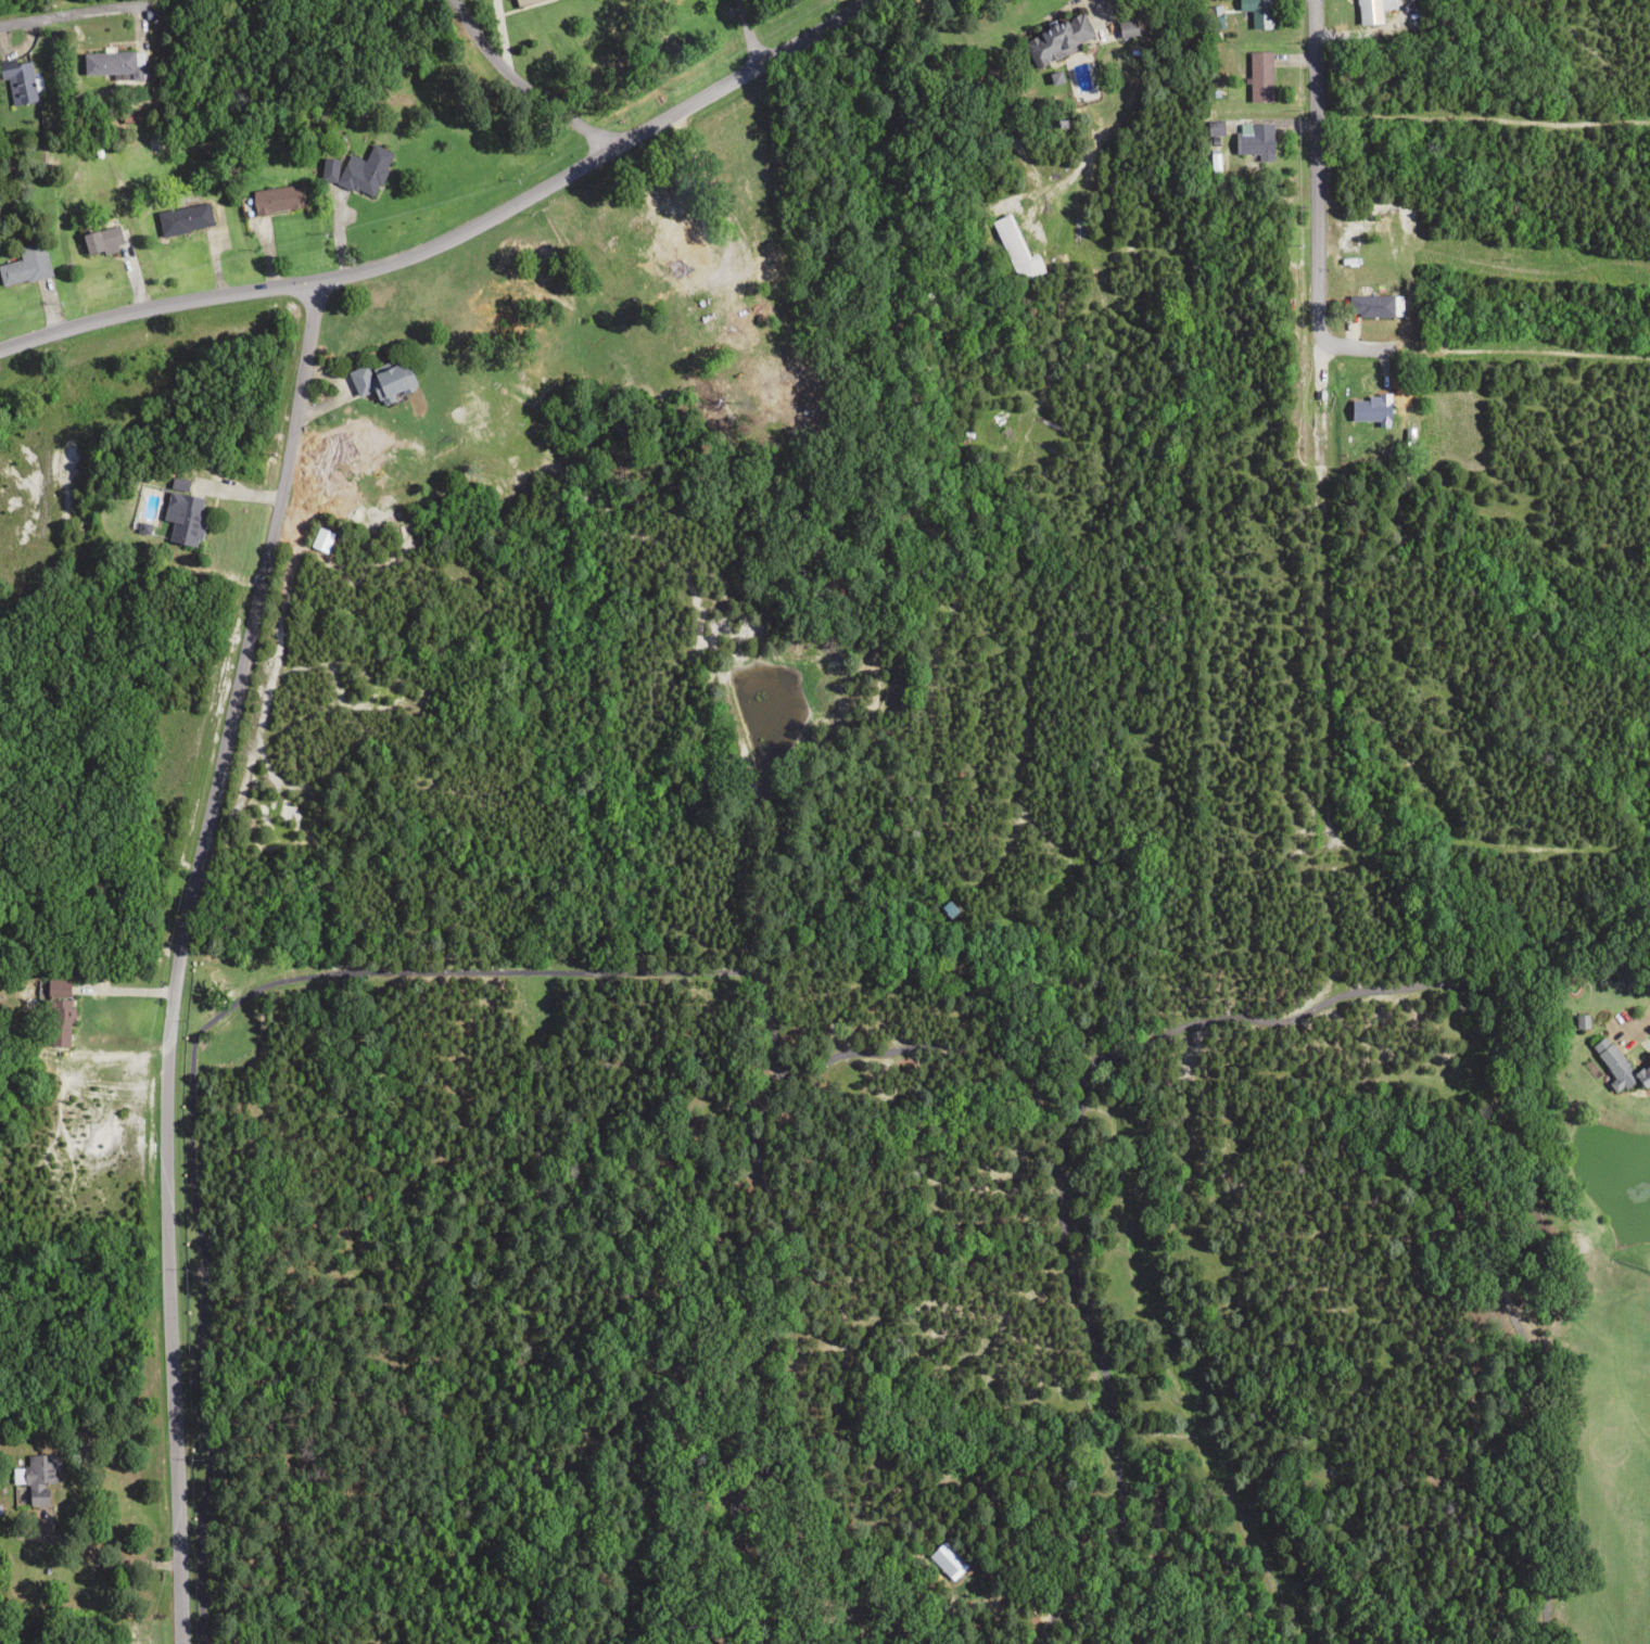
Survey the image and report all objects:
building: (520, 1)
building: (1370, 10)
building: (1256, 12)
road: (78, 15)
building: (1125, 27)
road: (749, 35)
building: (1057, 37)
building: (112, 63)
building: (1258, 75)
road: (541, 81)
building: (17, 82)
building: (1253, 139)
building: (327, 168)
building: (363, 170)
building: (275, 199)
building: (182, 218)
building: (101, 240)
road: (461, 242)
building: (1011, 245)
building: (680, 254)
building: (25, 265)
building: (1369, 305)
road: (1388, 347)
building: (378, 379)
building: (1368, 409)
road: (1328, 443)
building: (183, 512)
road: (188, 957)
building: (55, 1009)
building: (1620, 1066)
building: (36, 1471)
building: (945, 1559)

